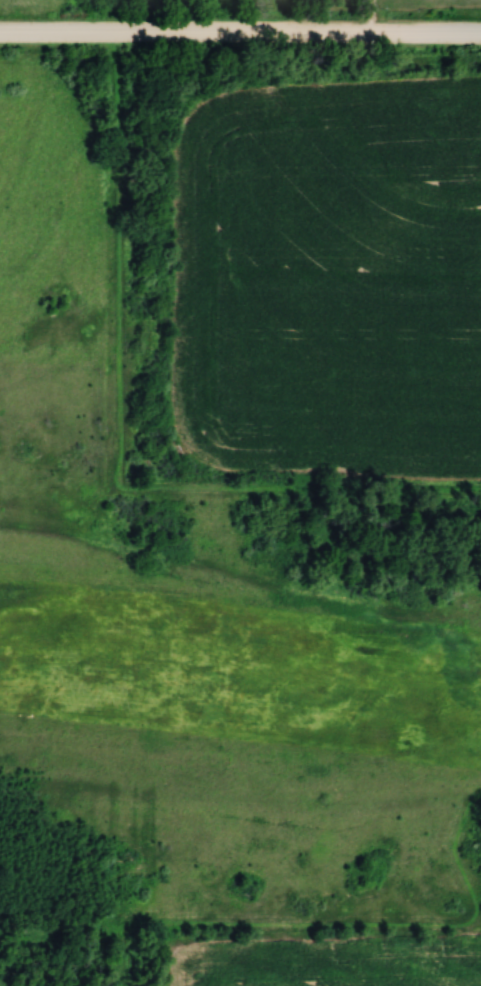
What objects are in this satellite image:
road: (240, 31)

